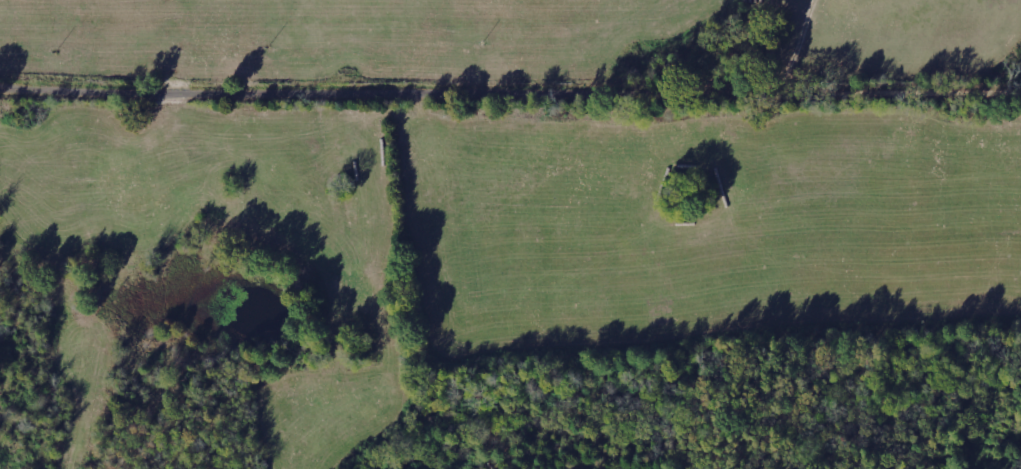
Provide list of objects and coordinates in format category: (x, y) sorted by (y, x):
road: (510, 96)

